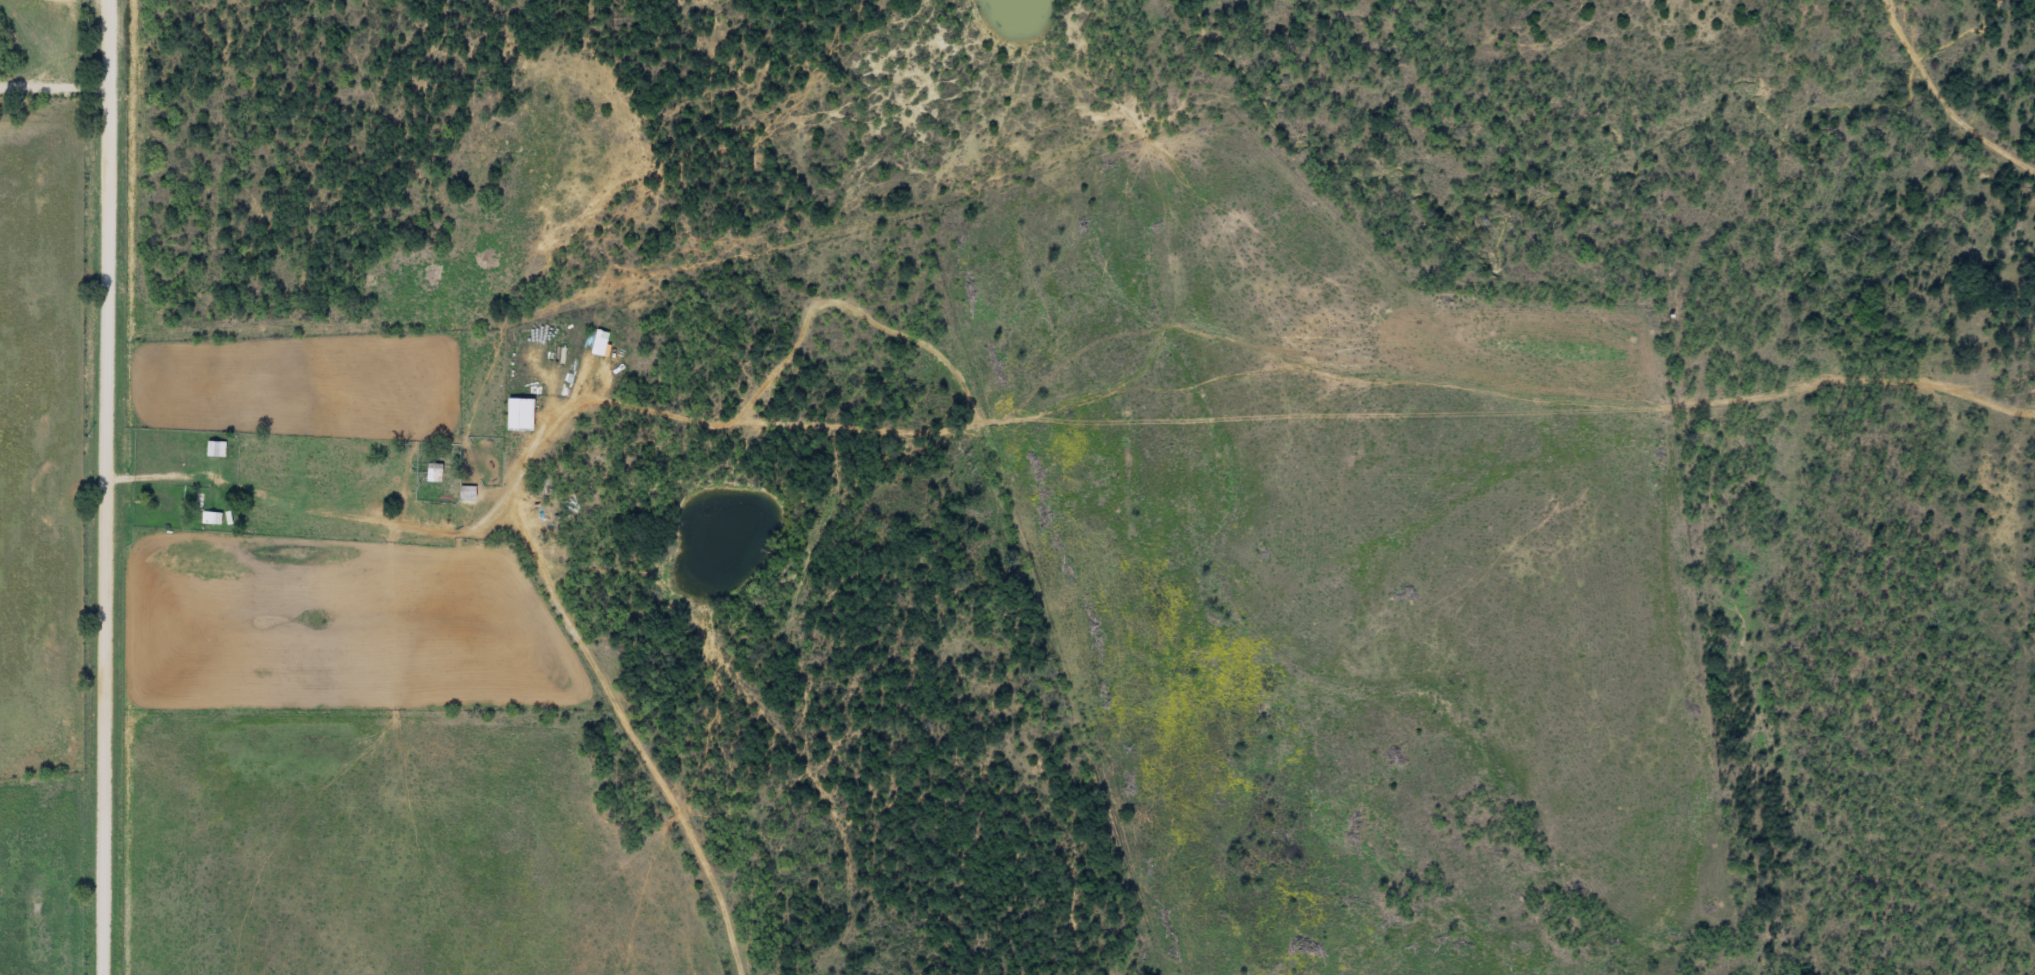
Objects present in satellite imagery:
road: (1947, 92)
road: (1256, 348)
building: (214, 449)
building: (431, 473)
road: (136, 487)
building: (464, 494)
building: (210, 519)
road: (591, 580)

